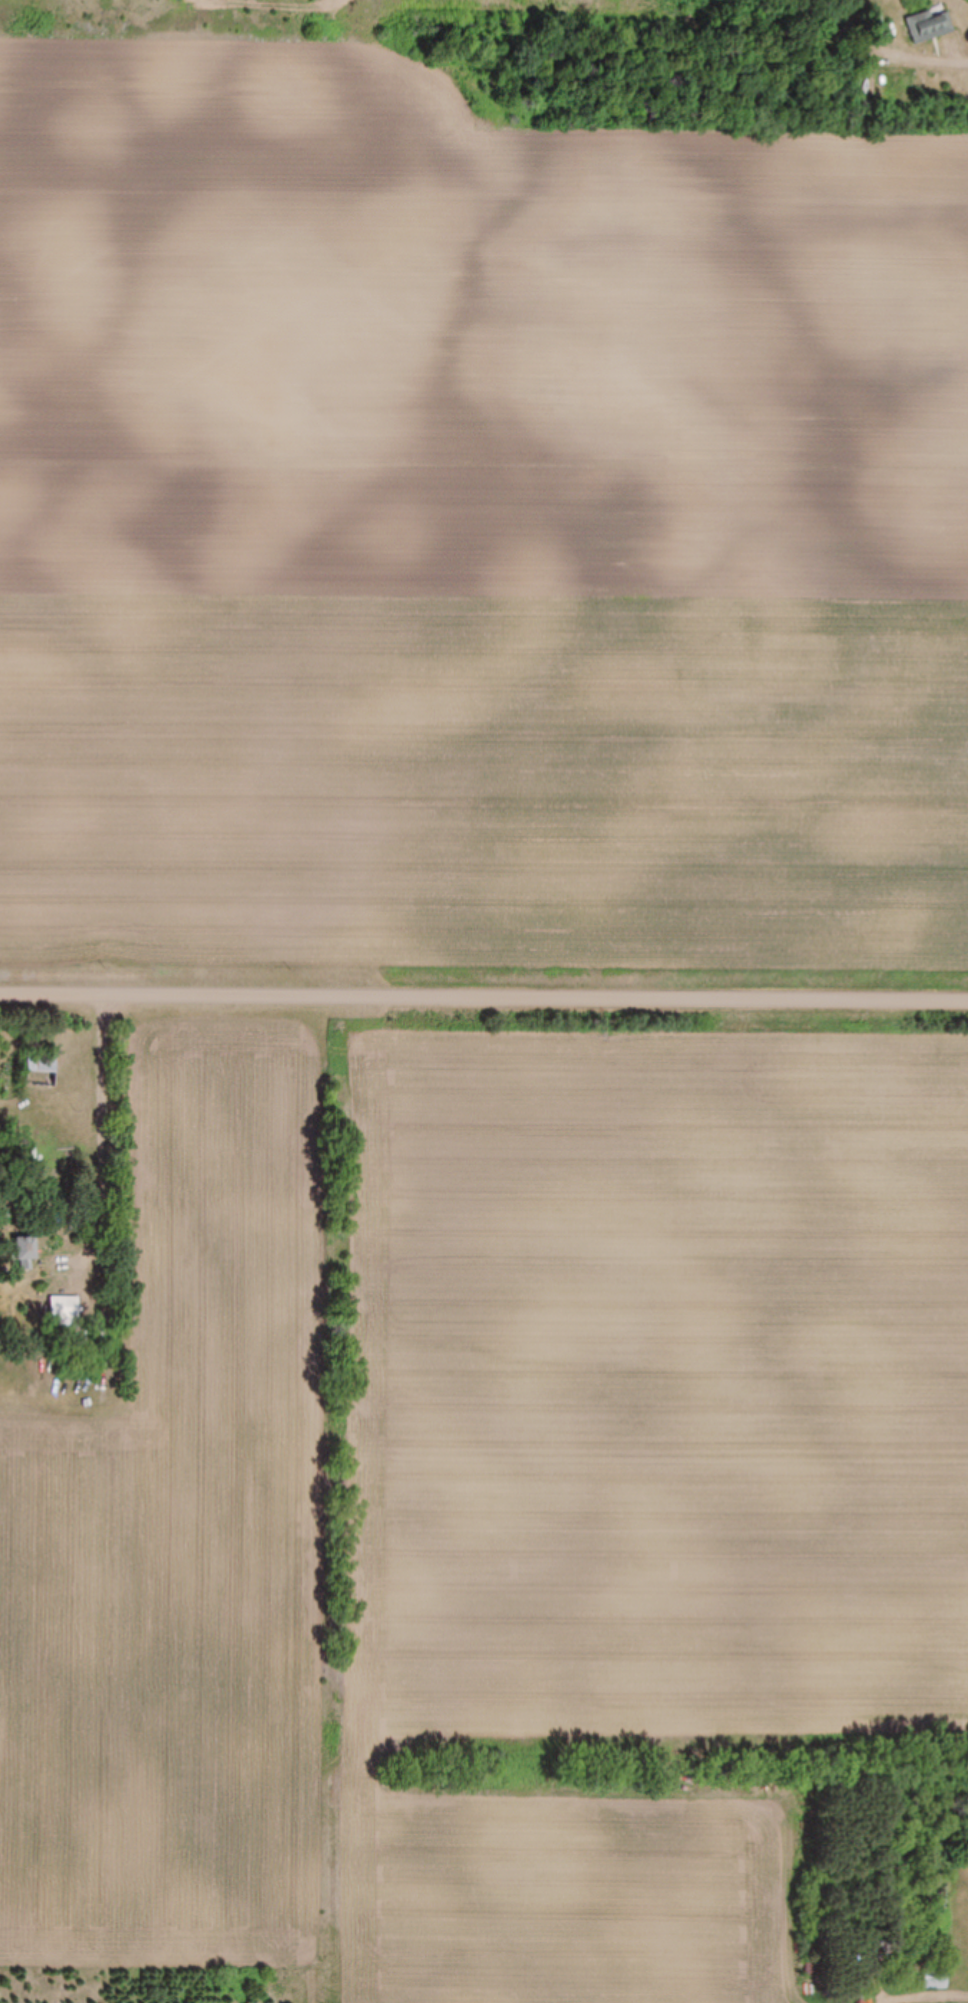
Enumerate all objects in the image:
building: (929, 28)
building: (875, 29)
road: (926, 58)
road: (484, 997)
building: (40, 1071)
road: (71, 1225)
building: (23, 1254)
building: (63, 1309)
building: (99, 1328)
road: (932, 1894)
building: (935, 1979)

